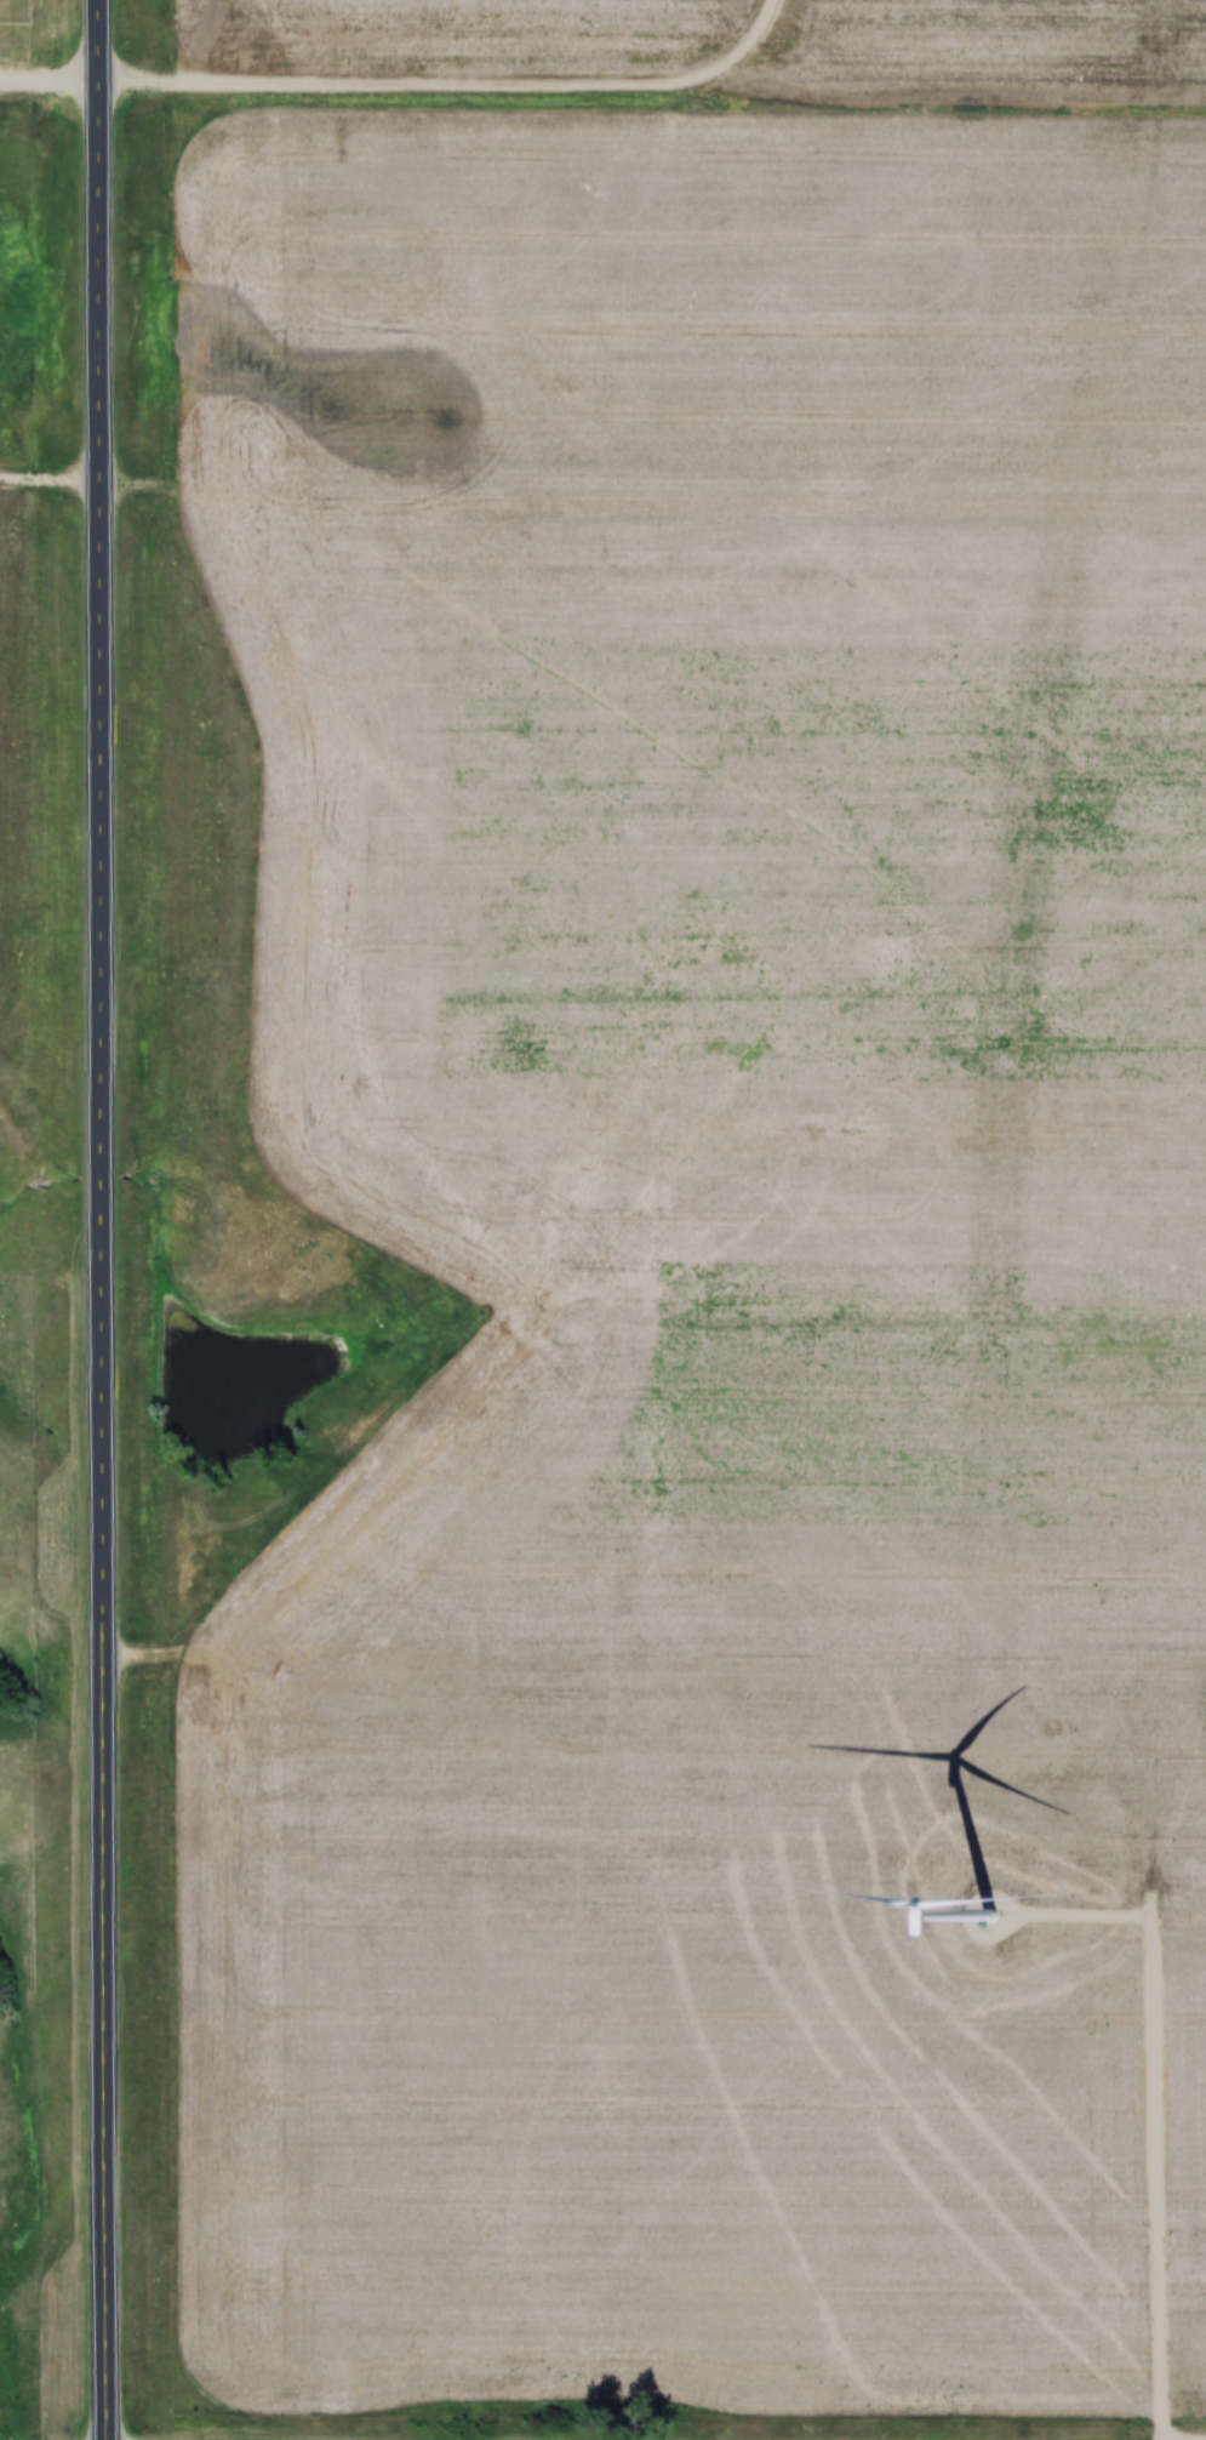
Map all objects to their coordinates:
road: (55, 74)
road: (459, 81)
road: (114, 1220)
wind turbine: (971, 1917)
road: (1149, 2122)

